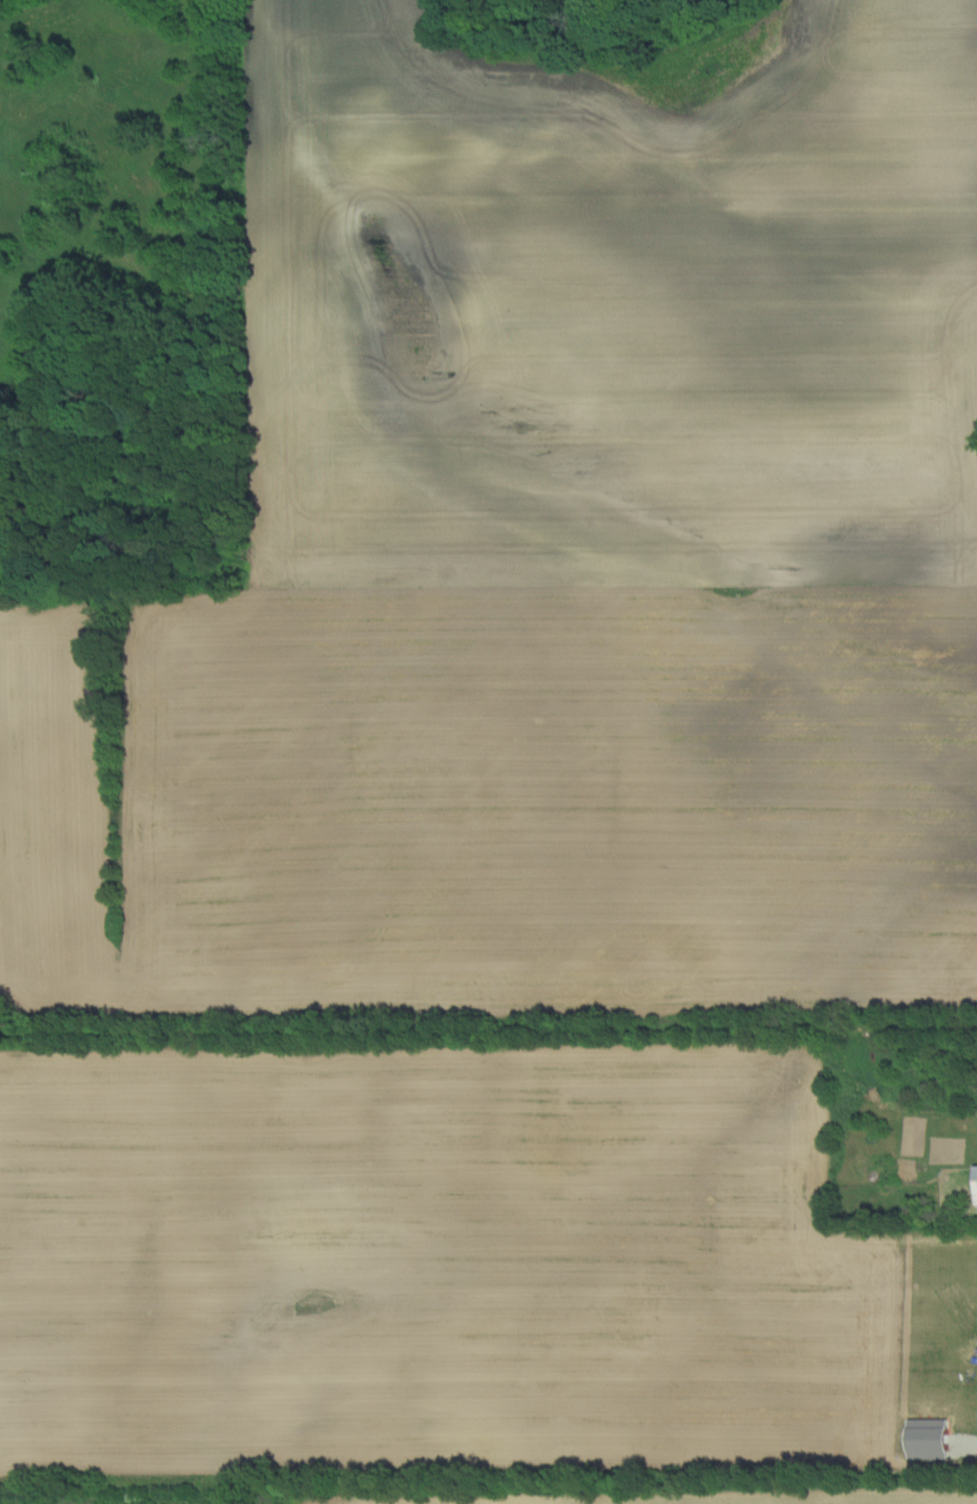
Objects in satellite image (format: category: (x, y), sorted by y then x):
building: (975, 1088)
building: (976, 1185)

